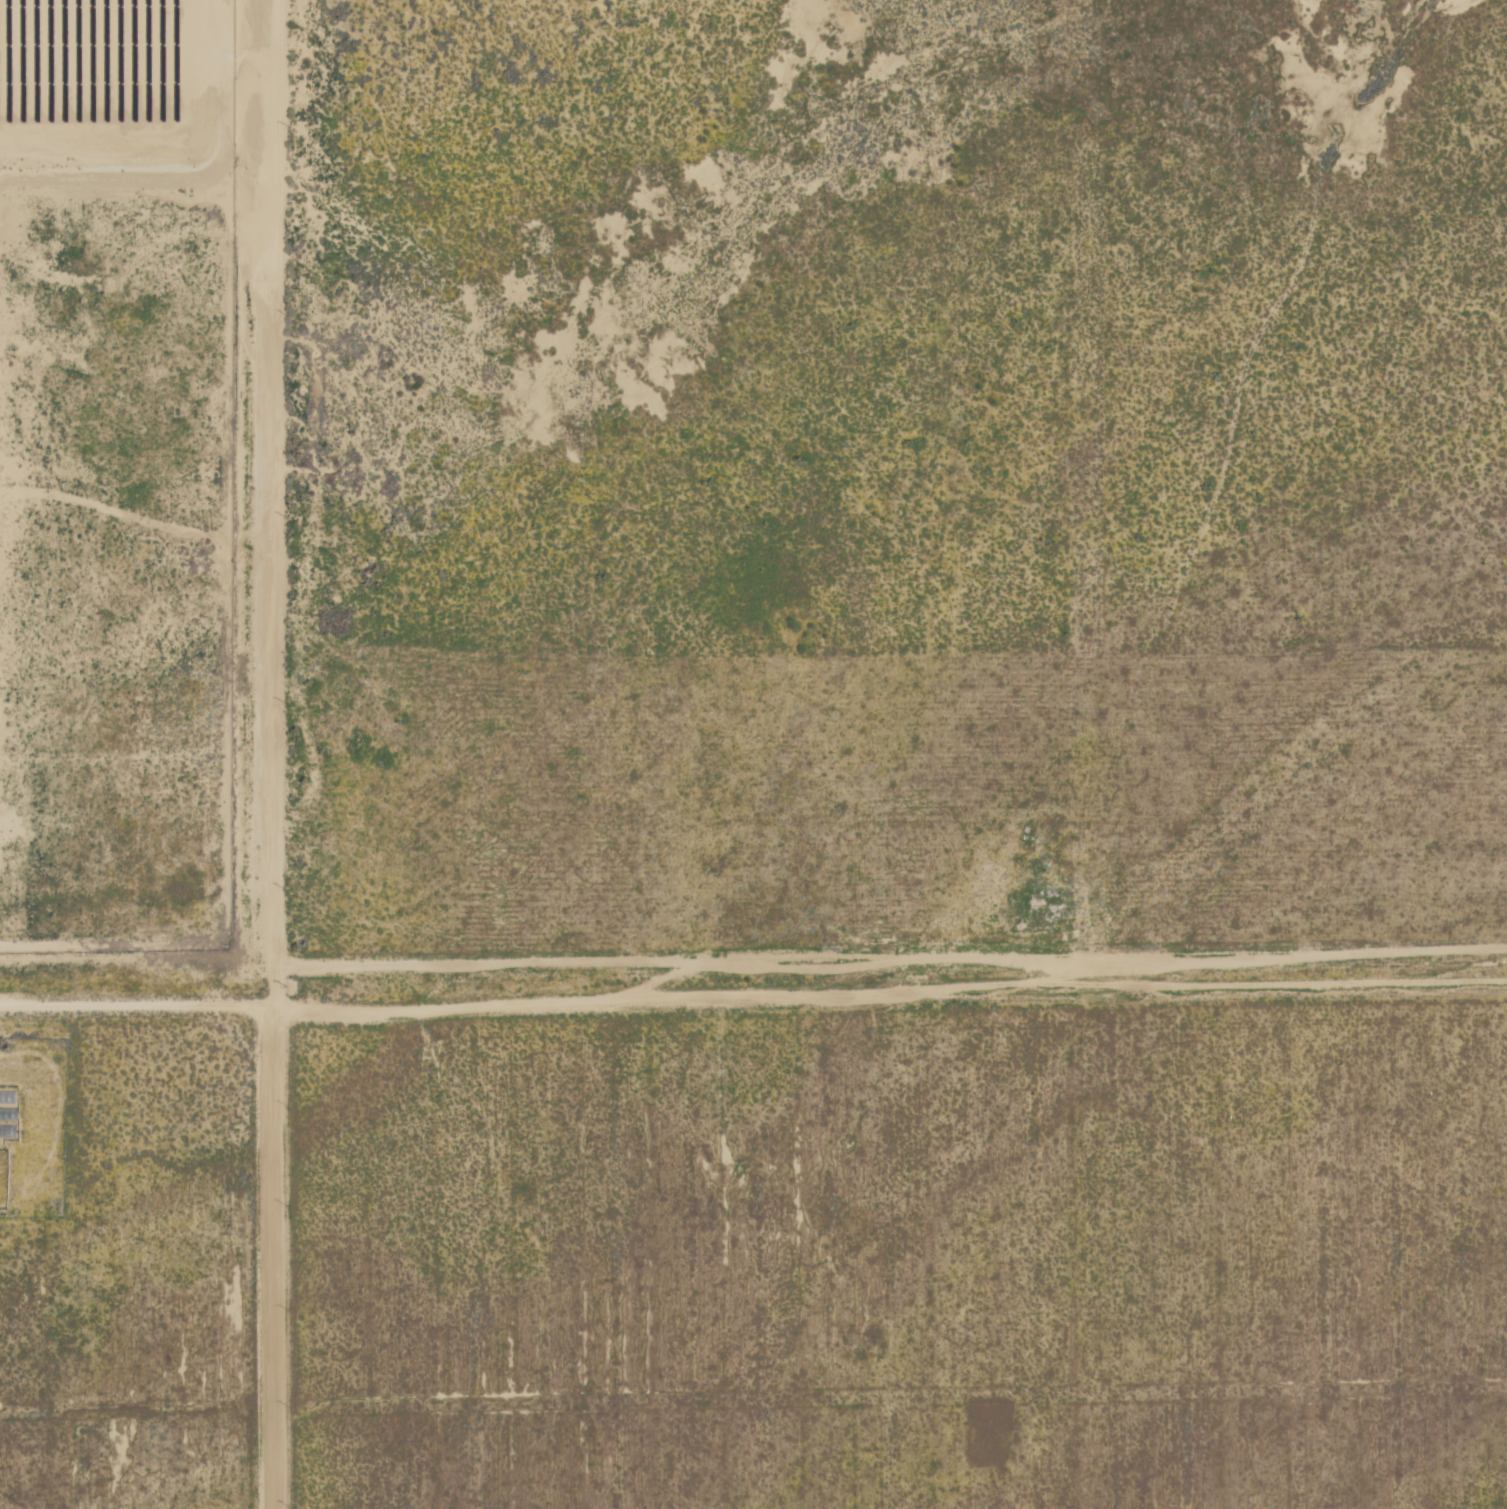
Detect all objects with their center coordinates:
solar farm: (117, 477)
road: (276, 511)
road: (753, 1004)
road: (278, 1266)
building: (90, 1431)

